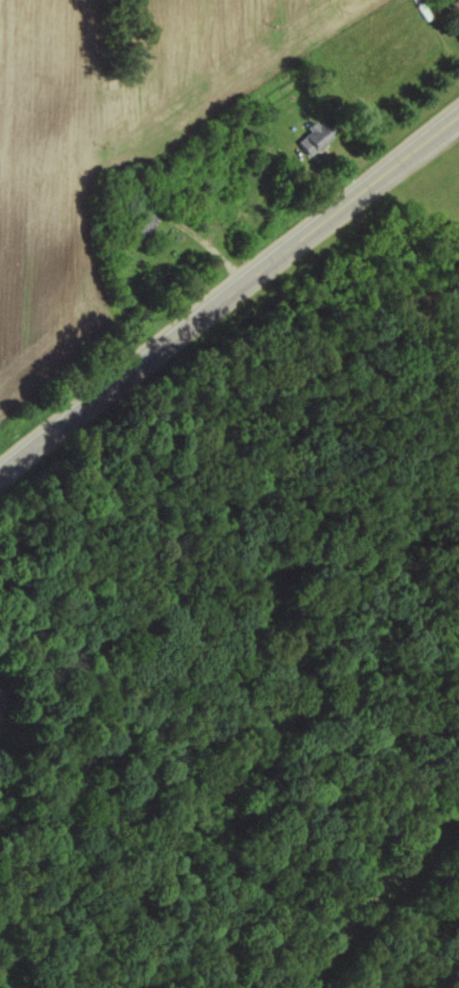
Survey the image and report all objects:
building: (452, 6)
building: (310, 139)
building: (138, 222)
road: (229, 291)

